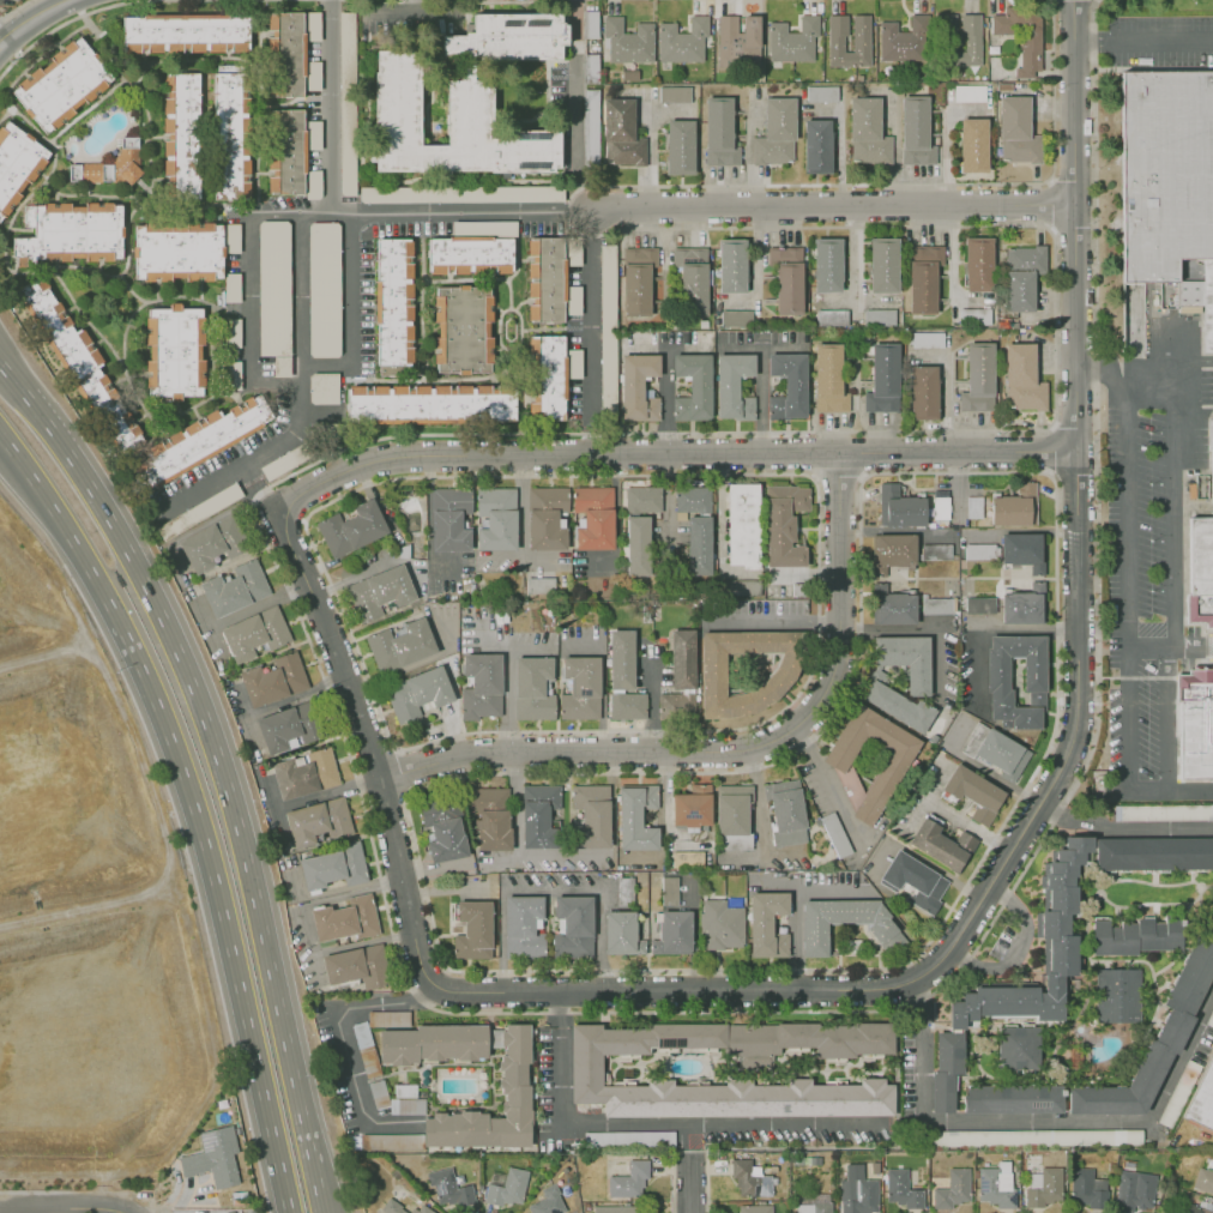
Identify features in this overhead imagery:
road: (501, 1)
parking lot: (5, 4)
park: (7, 7)
road: (14, 8)
road: (29, 18)
road: (64, 23)
building: (589, 24)
road: (2, 30)
building: (187, 34)
building: (508, 37)
building: (627, 37)
building: (851, 38)
building: (1025, 38)
building: (682, 40)
building: (792, 40)
building: (901, 40)
building: (964, 40)
road: (1143, 40)
building: (737, 41)
building: (289, 55)
building: (590, 67)
building: (312, 76)
road: (575, 85)
building: (62, 86)
building: (968, 92)
building: (674, 93)
building: (821, 93)
building: (346, 103)
road: (330, 105)
building: (467, 109)
building: (590, 110)
building: (1018, 129)
building: (867, 132)
building: (723, 133)
building: (778, 133)
building: (918, 133)
building: (621, 134)
building: (205, 137)
building: (974, 141)
building: (820, 144)
building: (680, 146)
building: (288, 149)
building: (589, 153)
road: (894, 156)
building: (17, 162)
building: (125, 164)
building: (90, 171)
building: (1165, 171)
building: (312, 183)
building: (457, 193)
road: (833, 207)
road: (461, 211)
road: (274, 213)
road: (315, 213)
road: (568, 223)
building: (70, 231)
building: (230, 237)
building: (177, 251)
building: (471, 257)
building: (979, 262)
building: (831, 264)
building: (883, 265)
building: (734, 266)
building: (1024, 278)
building: (547, 279)
building: (692, 279)
building: (786, 279)
building: (919, 279)
building: (635, 280)
building: (231, 286)
building: (273, 288)
building: (322, 289)
road: (351, 289)
building: (1199, 298)
building: (396, 300)
road: (592, 310)
building: (736, 318)
building: (880, 318)
building: (977, 318)
building: (832, 319)
building: (465, 328)
building: (606, 330)
building: (233, 334)
building: (927, 339)
building: (179, 350)
road: (1, 360)
road: (1191, 362)
building: (282, 366)
road: (327, 367)
building: (82, 368)
road: (1105, 370)
building: (233, 373)
building: (549, 376)
building: (977, 376)
building: (883, 378)
building: (1021, 378)
building: (829, 379)
road: (277, 382)
building: (693, 384)
building: (639, 386)
building: (789, 386)
building: (322, 387)
building: (732, 387)
building: (924, 392)
road: (1148, 396)
road: (666, 398)
building: (430, 404)
building: (209, 437)
building: (1211, 443)
road: (1076, 446)
road: (670, 453)
road: (247, 460)
building: (286, 466)
road: (1172, 494)
building: (1016, 506)
building: (973, 507)
building: (903, 508)
road: (523, 509)
building: (940, 509)
building: (198, 511)
building: (451, 518)
building: (545, 518)
building: (595, 518)
building: (497, 519)
building: (784, 521)
building: (743, 526)
building: (352, 527)
building: (640, 527)
building: (696, 527)
building: (218, 541)
building: (1021, 548)
building: (899, 550)
building: (939, 551)
building: (978, 551)
road: (521, 563)
building: (1199, 572)
building: (541, 586)
building: (233, 587)
building: (385, 587)
building: (738, 587)
building: (935, 605)
building: (979, 605)
building: (1024, 605)
building: (895, 611)
road: (774, 621)
road: (989, 627)
road: (918, 630)
building: (254, 633)
road: (1128, 634)
building: (402, 644)
road: (1170, 650)
road: (143, 651)
building: (683, 657)
building: (623, 658)
building: (906, 660)
building: (748, 671)
building: (1037, 672)
building: (272, 678)
building: (484, 684)
building: (583, 687)
building: (533, 692)
building: (422, 694)
building: (671, 705)
building: (628, 706)
building: (900, 706)
road: (1165, 718)
building: (289, 726)
building: (1195, 726)
road: (370, 746)
building: (995, 748)
road: (735, 754)
road: (219, 761)
building: (870, 761)
building: (303, 773)
road: (327, 792)
building: (971, 792)
building: (692, 808)
building: (785, 811)
building: (1161, 811)
building: (542, 814)
building: (494, 815)
building: (595, 816)
building: (642, 816)
building: (735, 816)
building: (319, 820)
road: (1122, 823)
building: (447, 831)
building: (838, 838)
building: (945, 846)
building: (1152, 851)
building: (687, 858)
building: (332, 867)
building: (913, 877)
building: (623, 891)
building: (668, 891)
building: (345, 919)
building: (766, 919)
building: (841, 923)
building: (720, 924)
building: (523, 925)
building: (573, 925)
building: (1054, 925)
building: (472, 930)
building: (620, 930)
building: (676, 931)
building: (1172, 935)
building: (1124, 939)
road: (1015, 948)
building: (358, 965)
road: (748, 991)
building: (1116, 995)
road: (524, 1013)
building: (1212, 1013)
building: (388, 1018)
building: (1212, 1024)
road: (340, 1037)
building: (1154, 1040)
building: (433, 1044)
building: (366, 1050)
building: (1019, 1050)
road: (254, 1056)
building: (587, 1067)
building: (946, 1072)
building: (518, 1088)
building: (405, 1091)
building: (379, 1096)
building: (1193, 1097)
building: (1012, 1098)
building: (406, 1106)
road: (1033, 1122)
road: (665, 1126)
road: (692, 1131)
building: (627, 1140)
building: (1032, 1140)
building: (391, 1142)
building: (212, 1157)
road: (693, 1176)
building: (630, 1178)
building: (749, 1179)
building: (1203, 1182)
building: (448, 1187)
building: (508, 1189)
building: (903, 1189)
building: (997, 1189)
building: (1086, 1189)
building: (1134, 1189)
building: (953, 1190)
building: (1048, 1190)
building: (861, 1196)
building: (548, 1205)
building: (815, 1206)
road: (60, 1207)
building: (756, 1208)
road: (321, 1209)
road: (324, 1209)
building: (397, 1211)
building: (426, 1211)
building: (620, 1211)
building: (1201, 1211)

